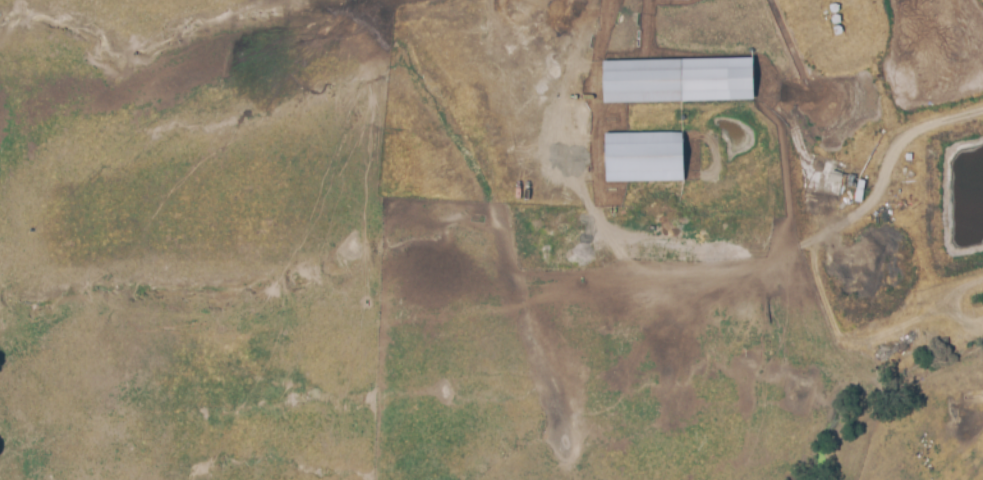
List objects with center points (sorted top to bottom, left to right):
building: (676, 81)
building: (643, 159)

